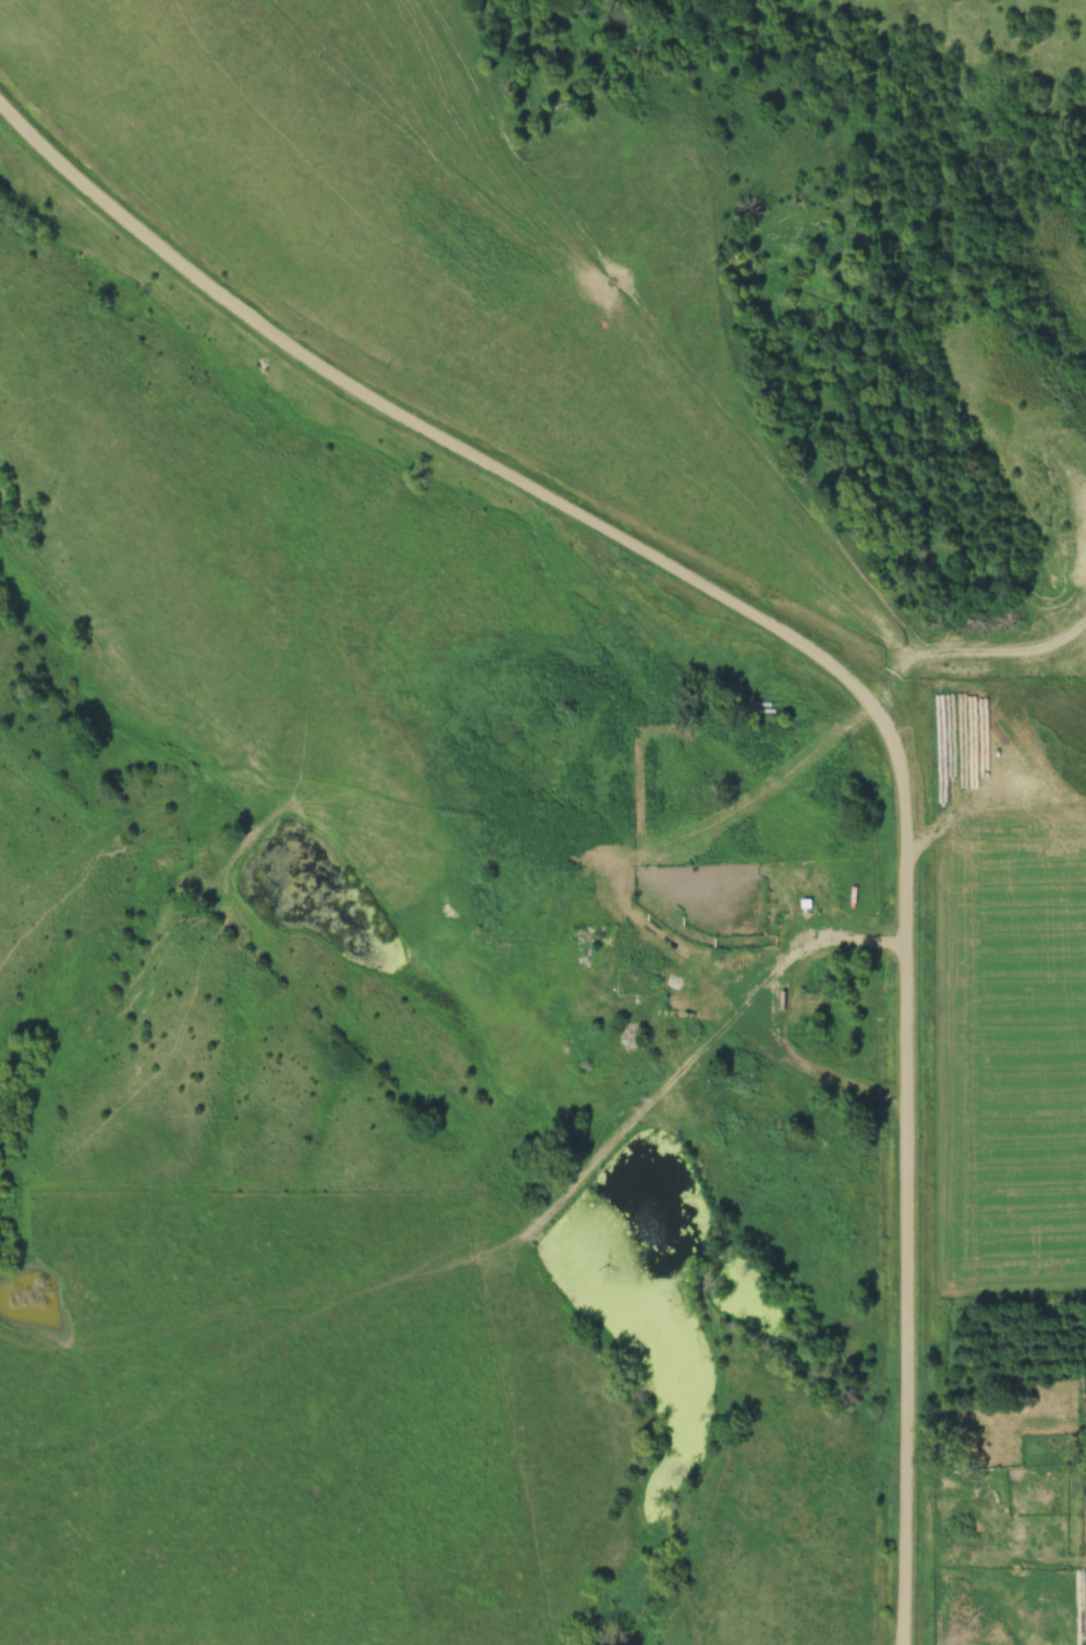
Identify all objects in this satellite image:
road: (827, 670)
building: (794, 891)
building: (634, 1033)
building: (1053, 1430)

